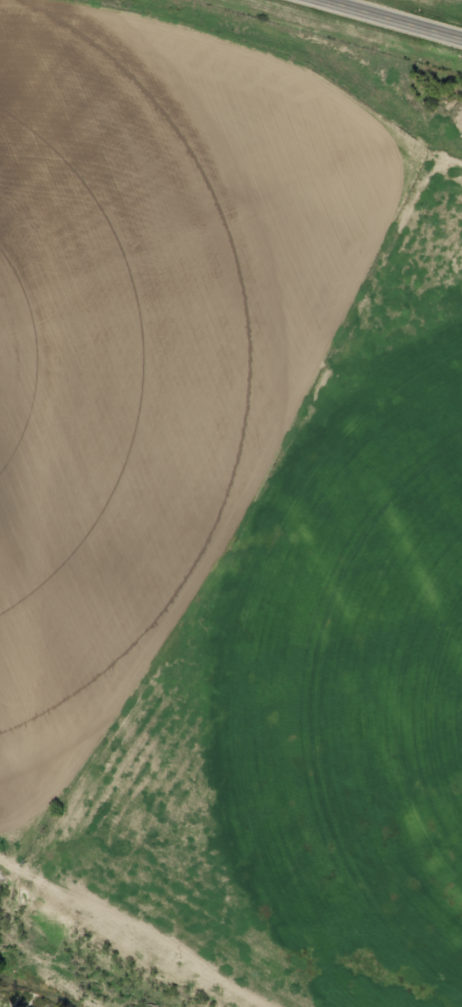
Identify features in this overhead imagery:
road: (394, 19)
road: (189, 928)

